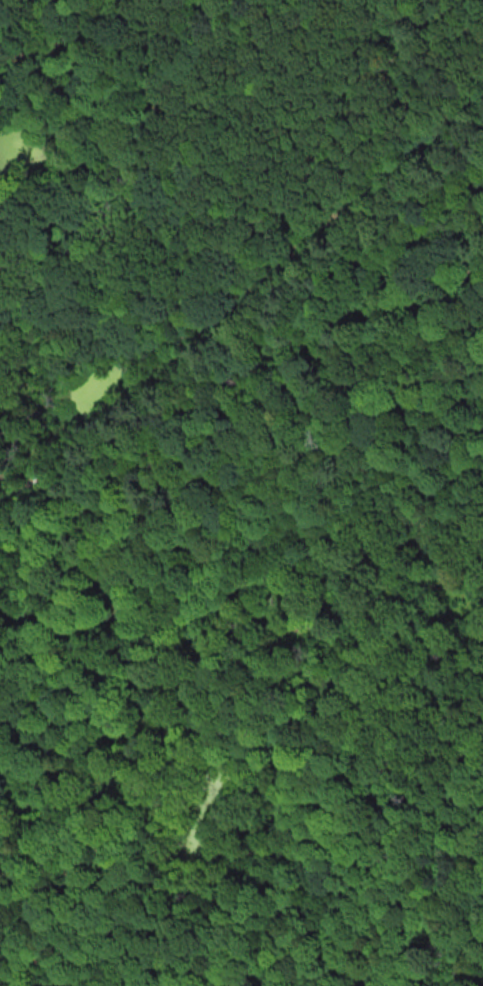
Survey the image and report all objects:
park: (240, 303)
road: (241, 306)

